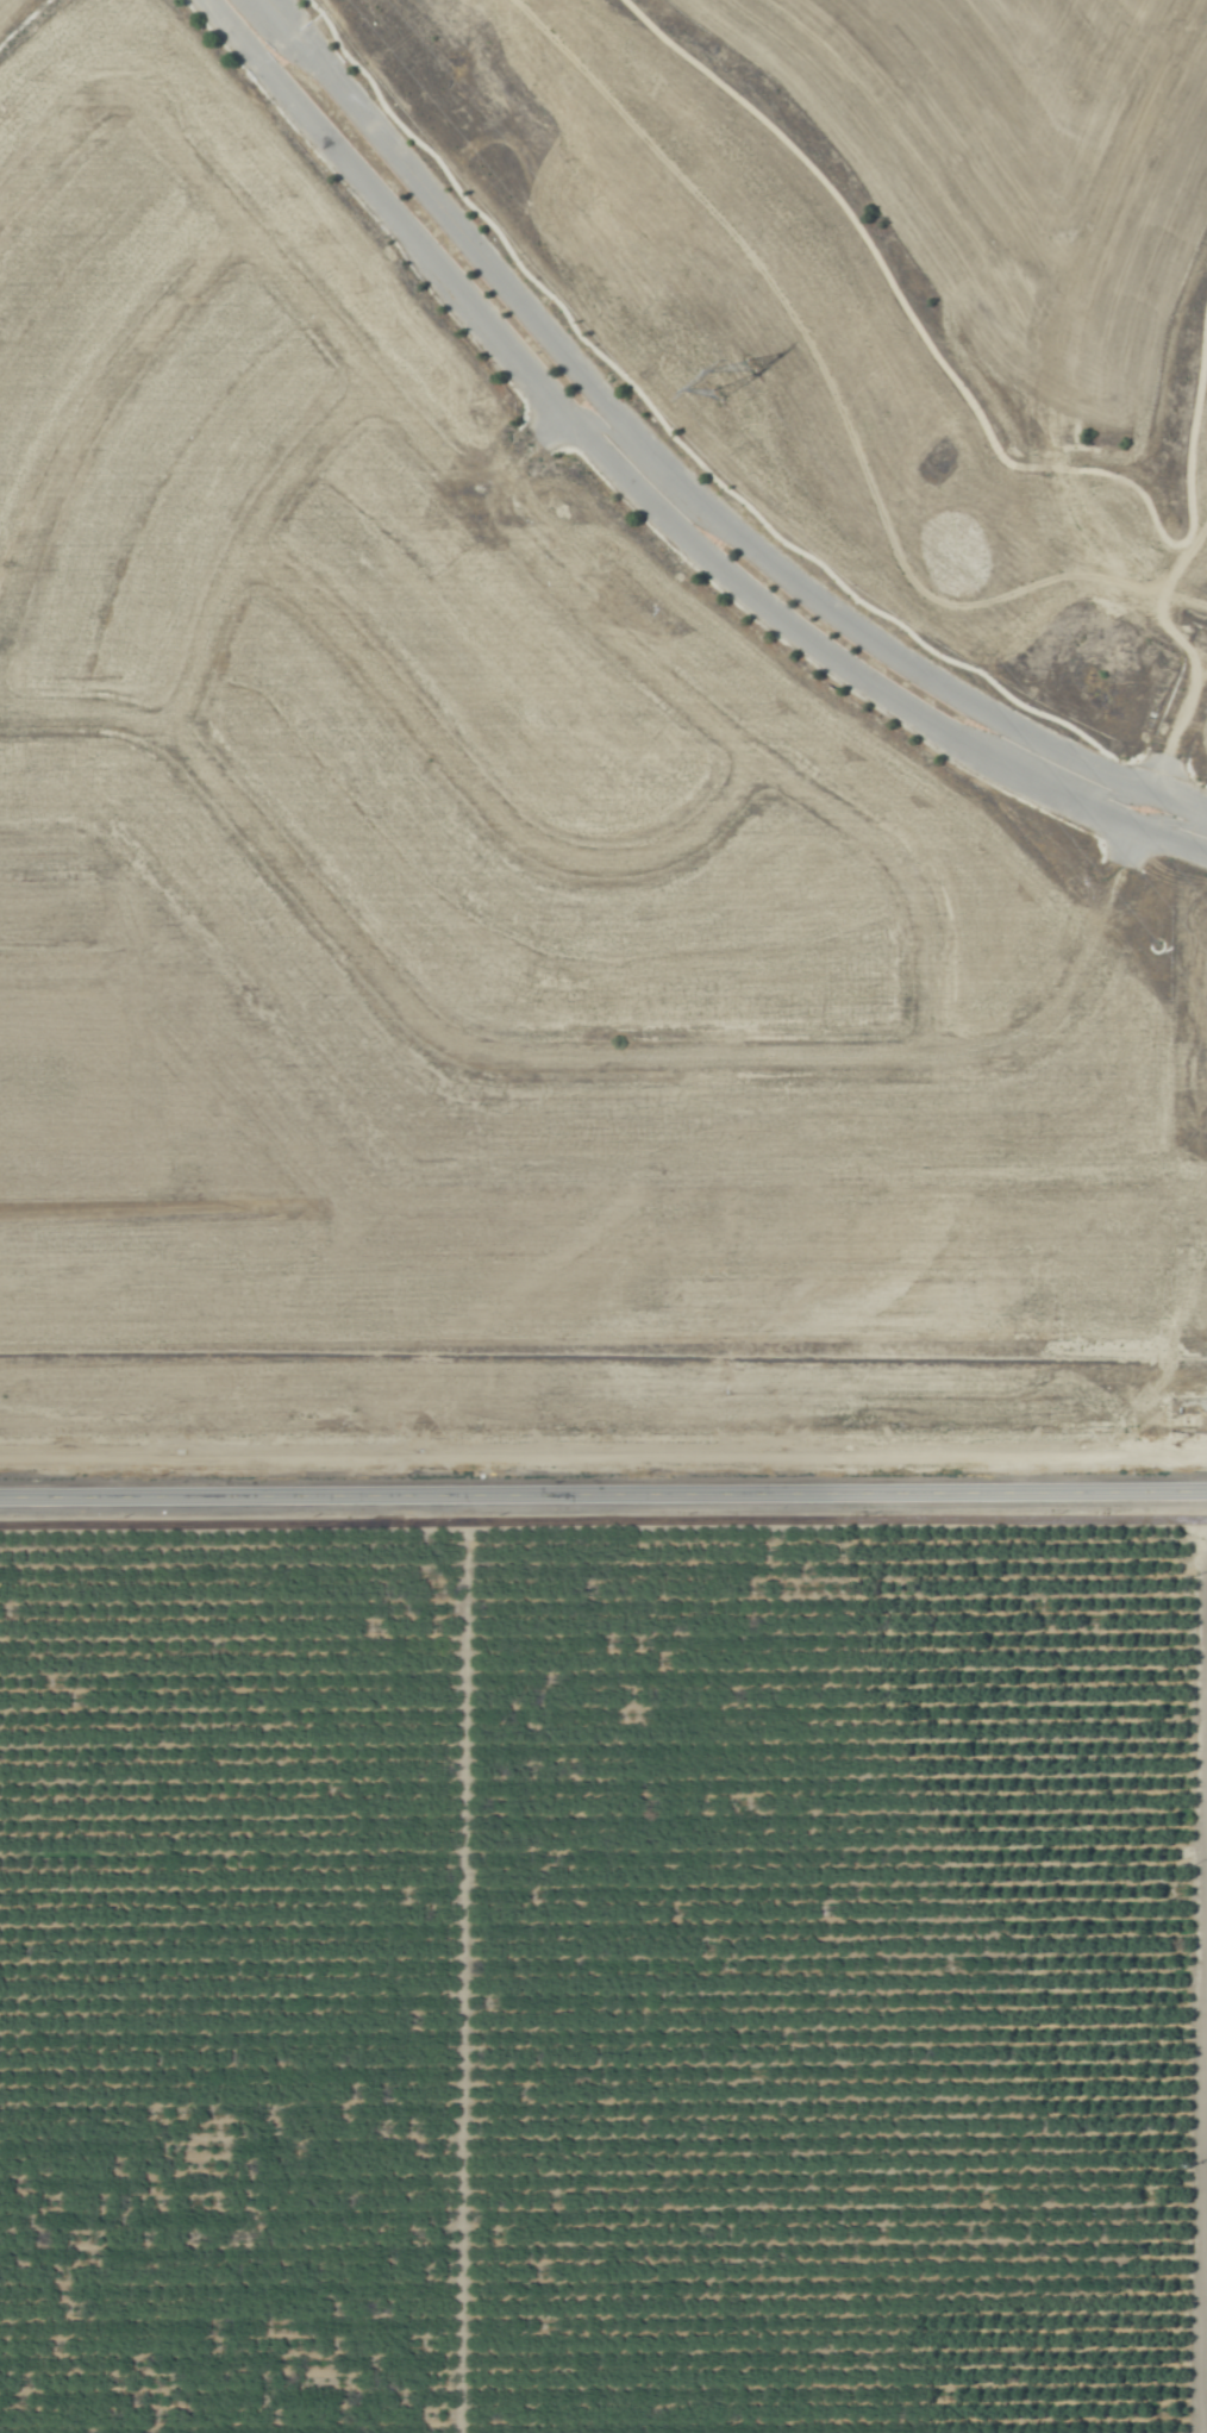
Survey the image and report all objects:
power tower: (748, 386)
road: (603, 1495)

